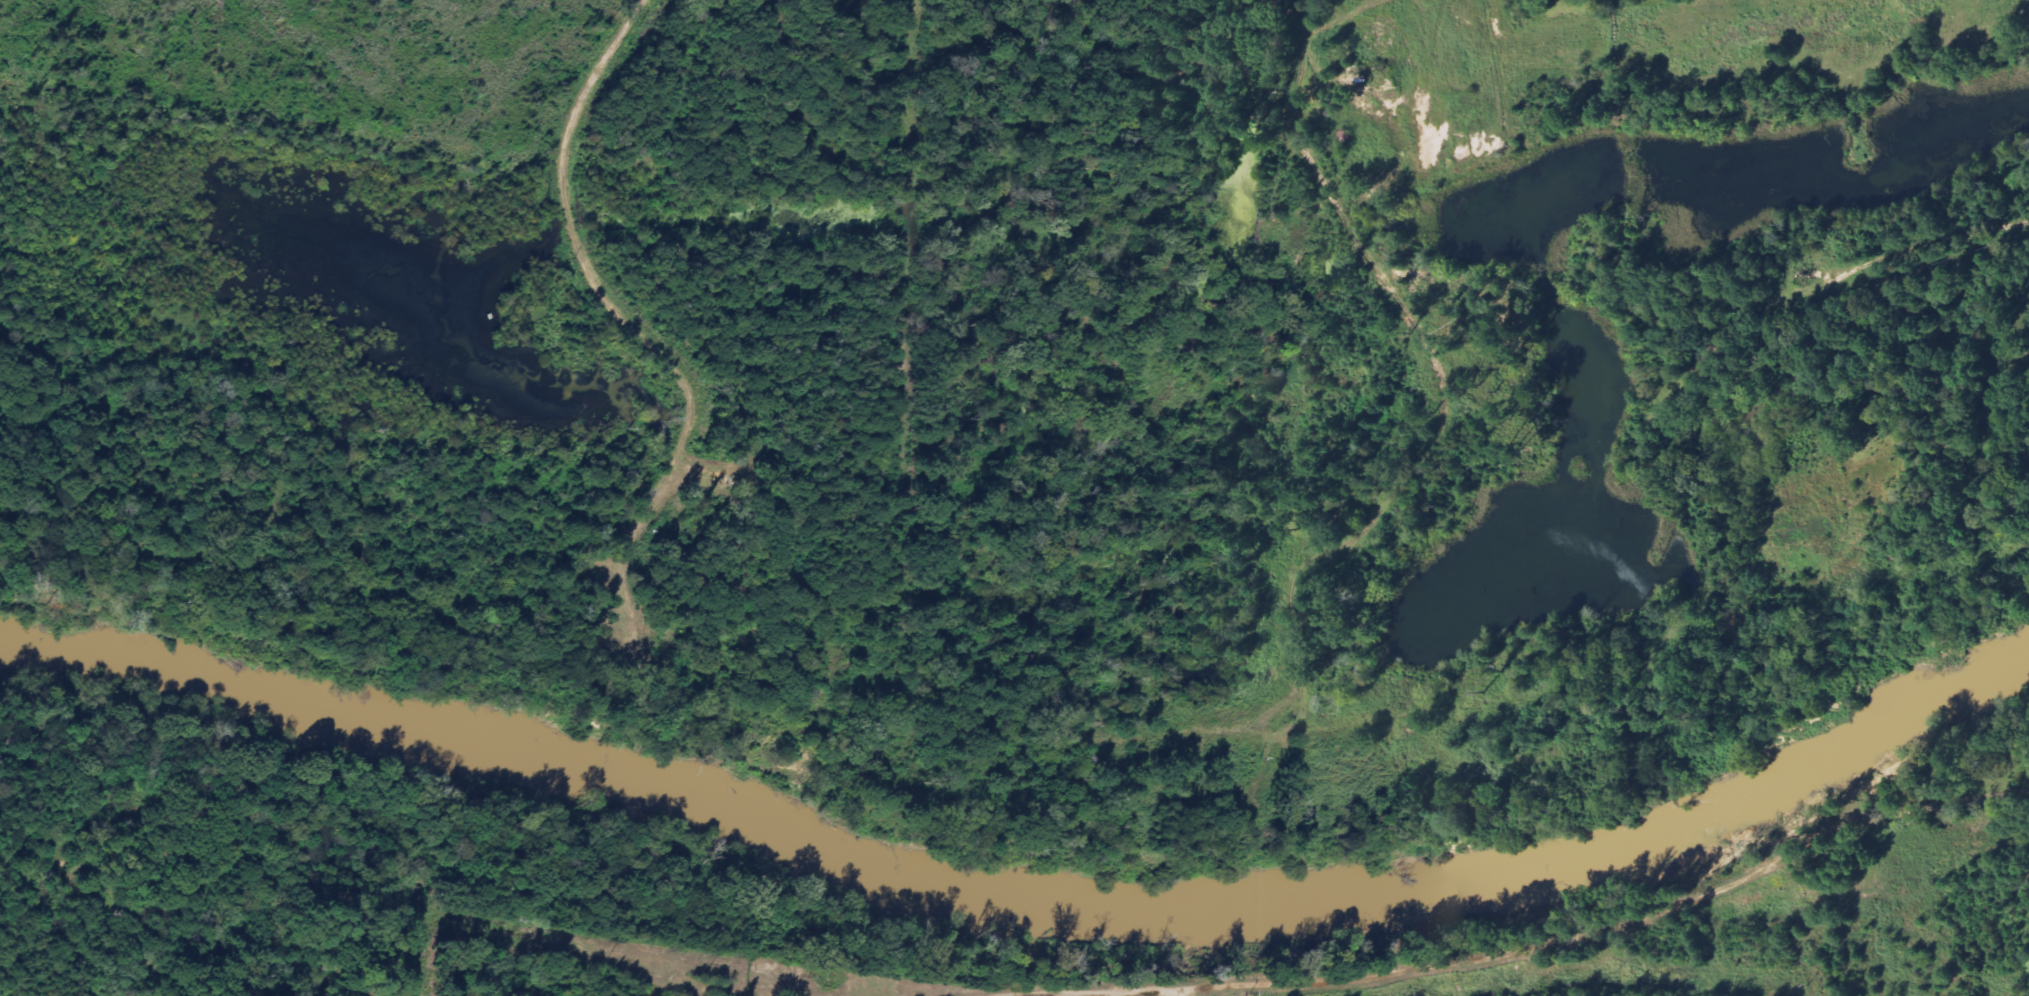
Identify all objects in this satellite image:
river: (1021, 897)
road: (1574, 943)

